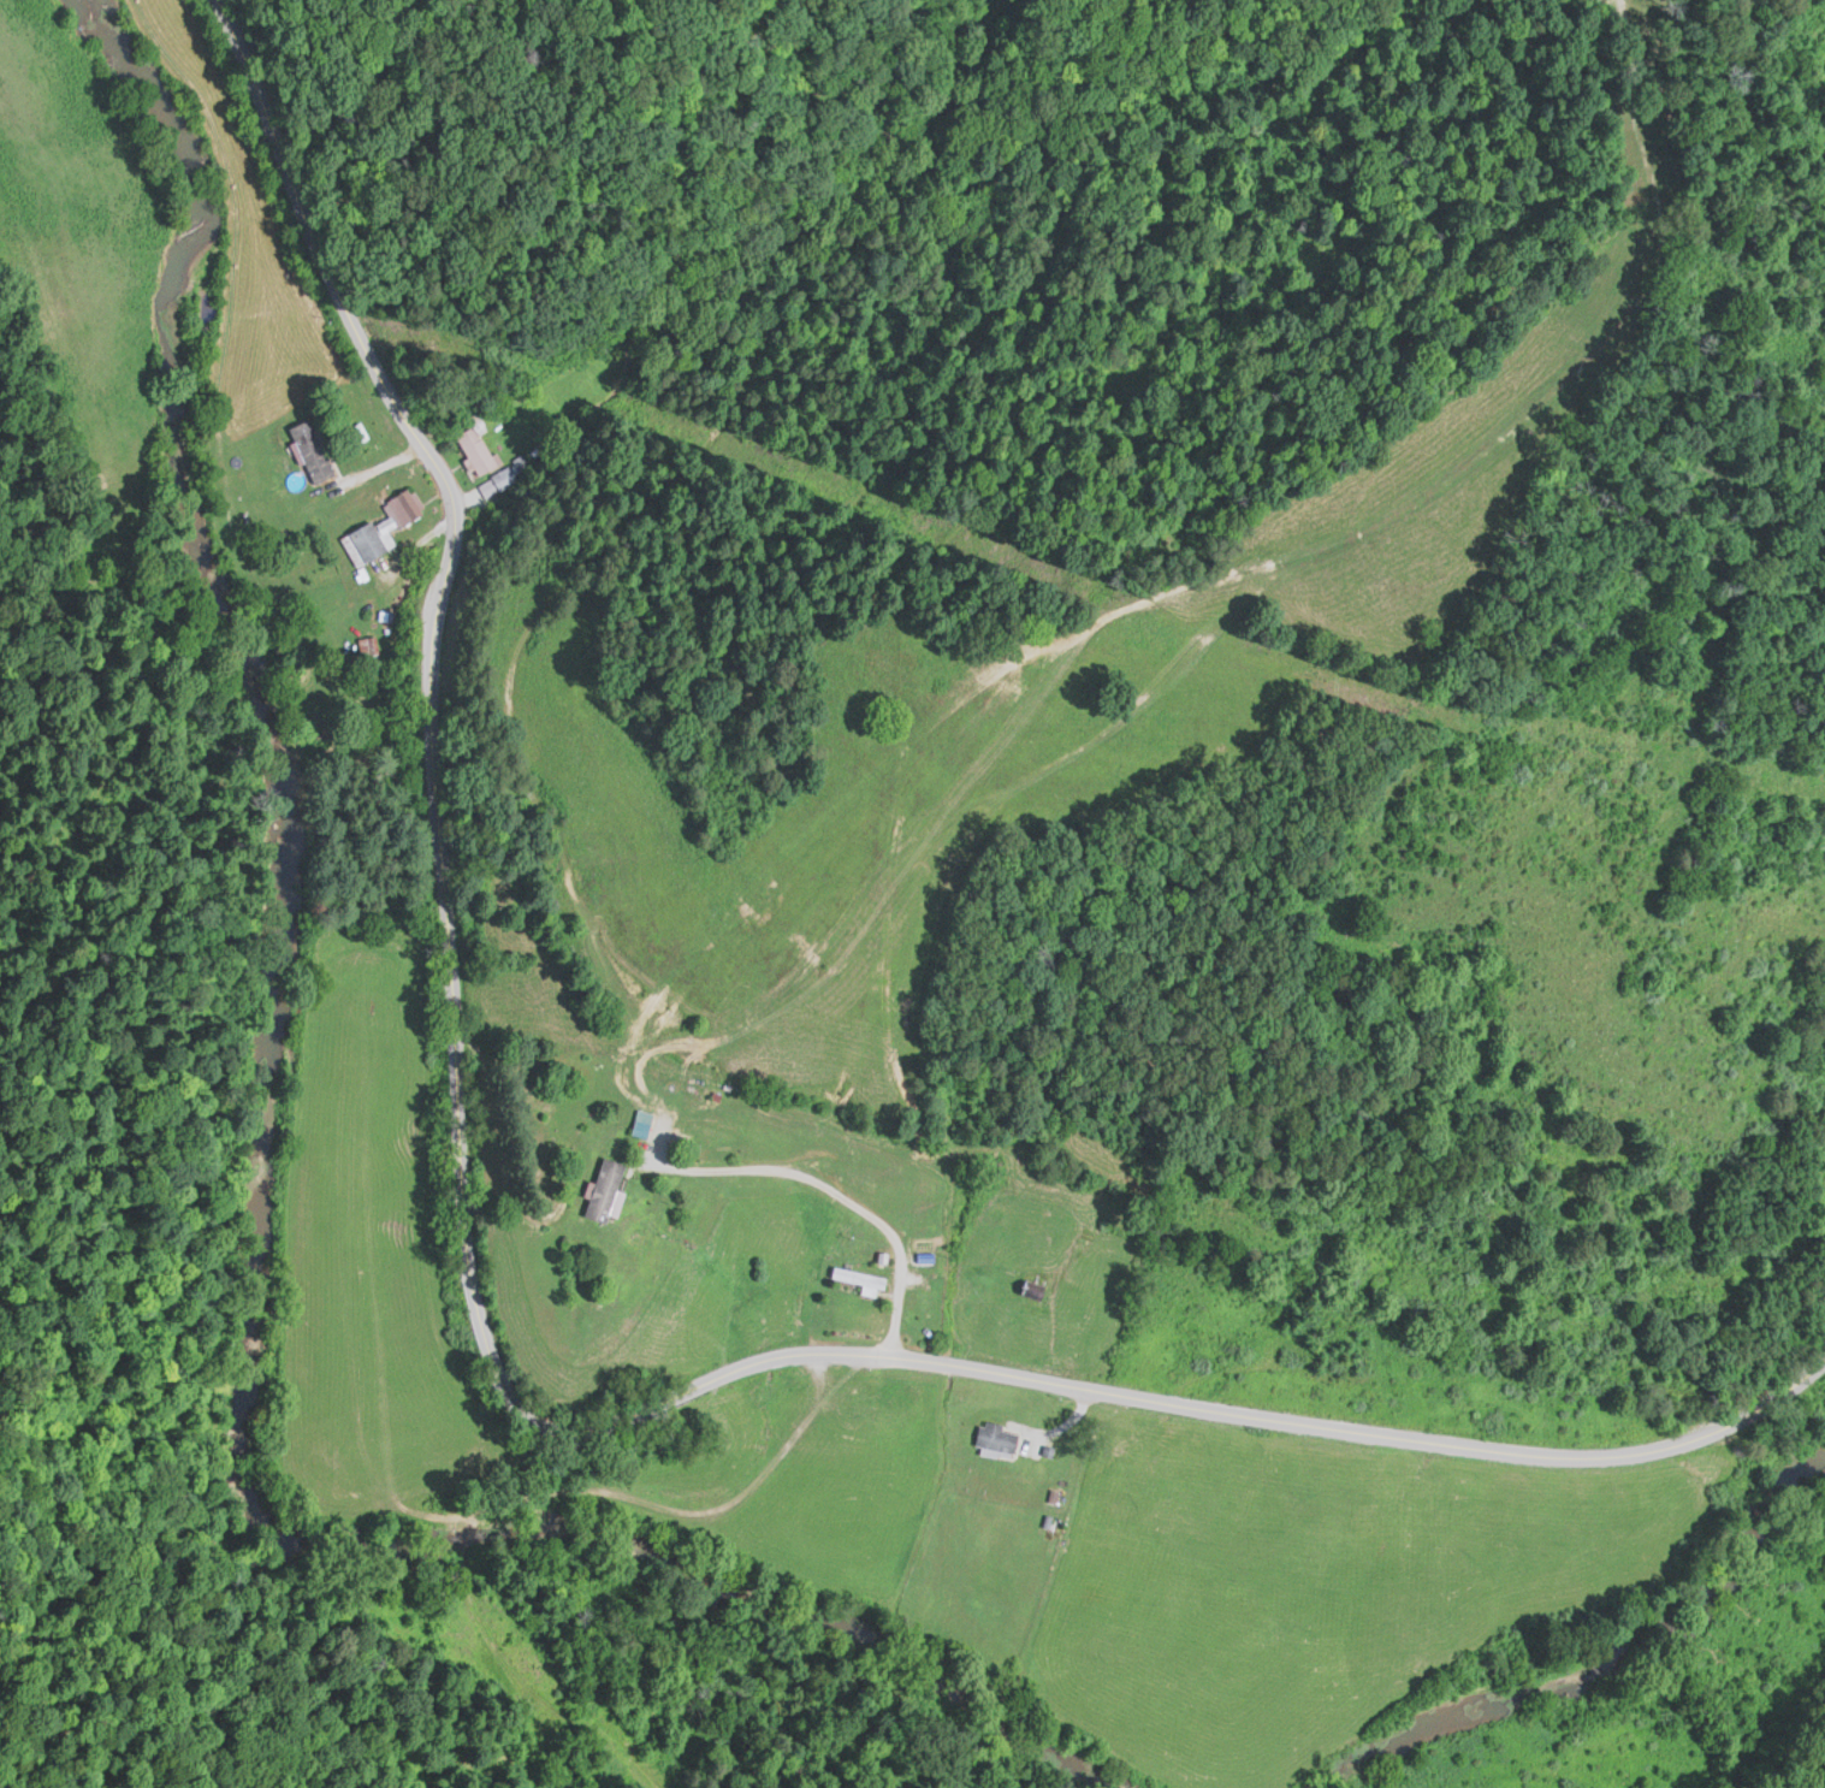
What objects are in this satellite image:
building: (474, 445)
building: (381, 525)
building: (366, 644)
road: (1339, 1090)
building: (639, 1127)
building: (603, 1186)
road: (830, 1194)
building: (858, 1275)
building: (1032, 1285)
road: (490, 1354)
building: (994, 1437)

